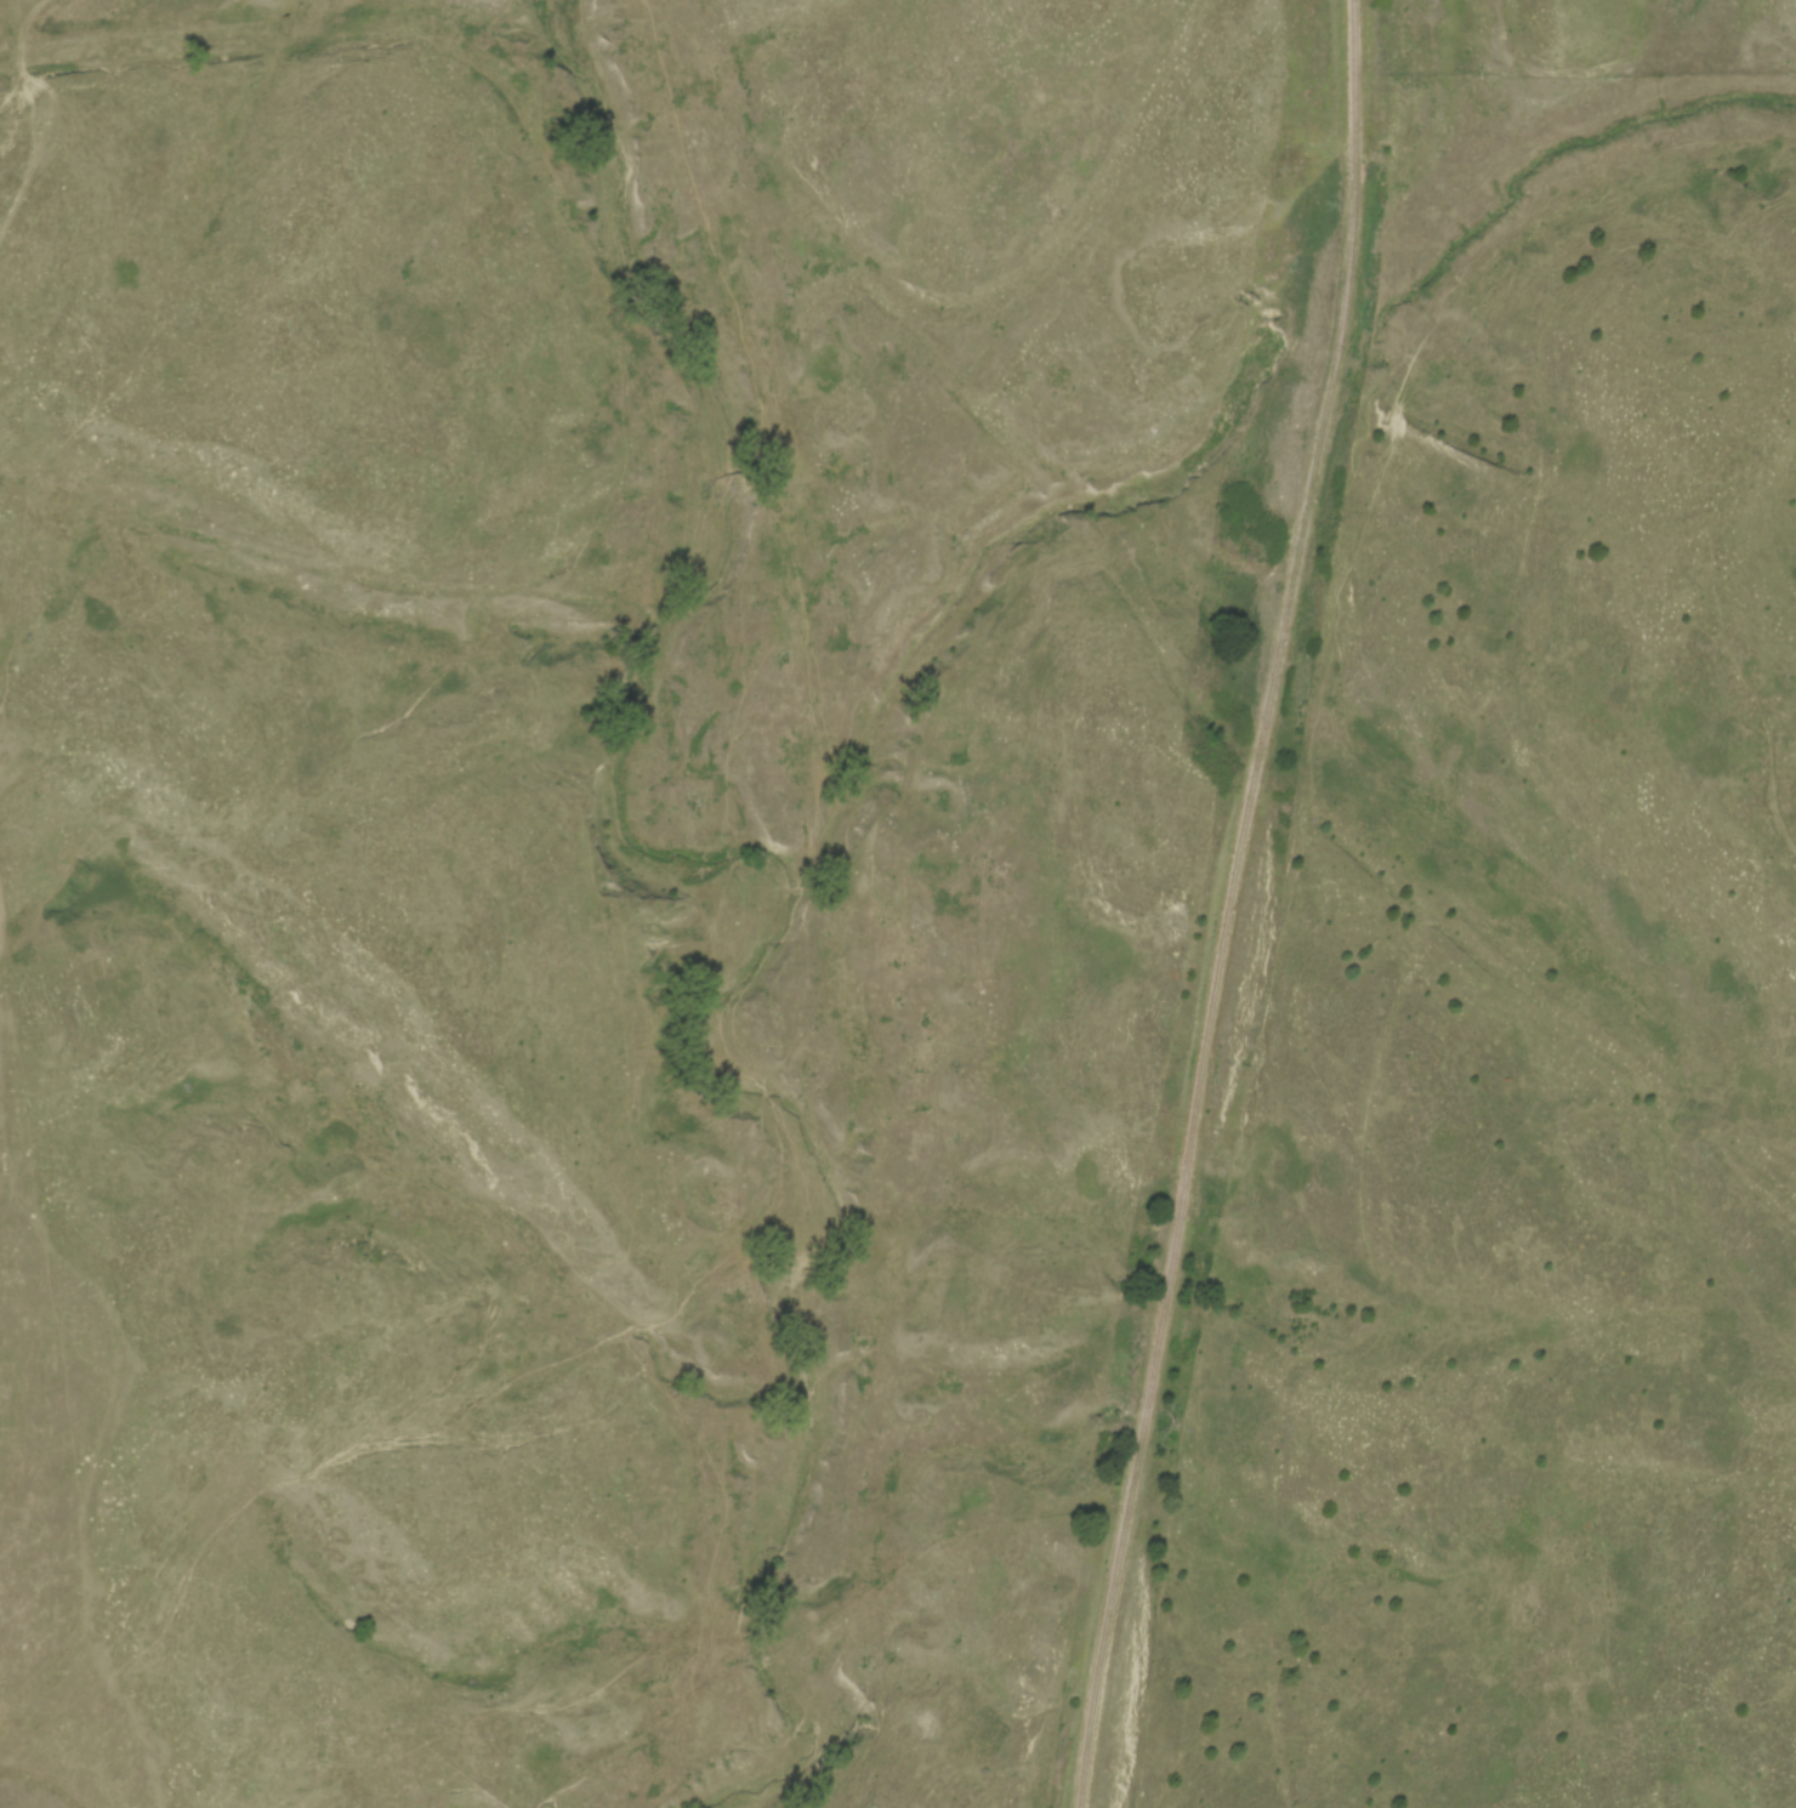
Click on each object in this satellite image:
railway: (1229, 905)

